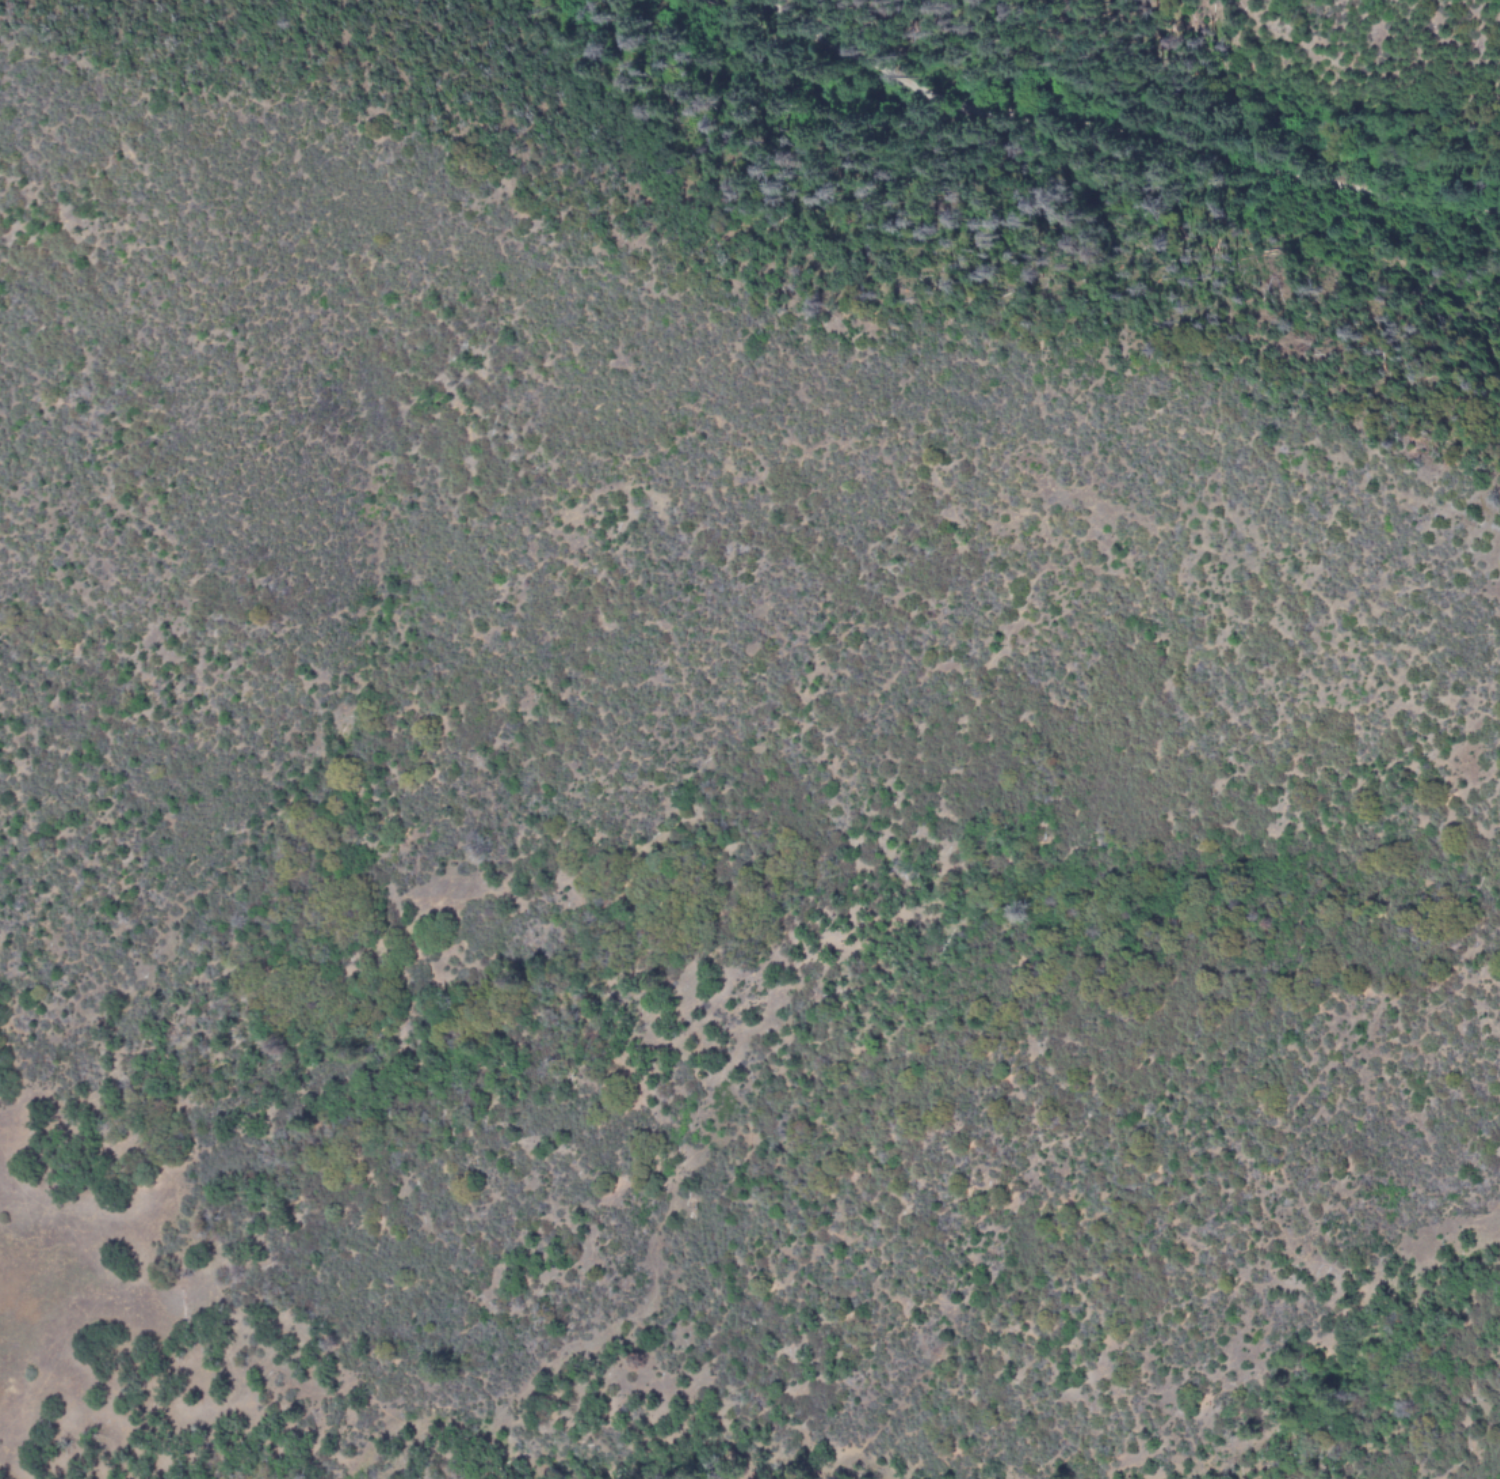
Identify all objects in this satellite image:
road: (755, 10)
road: (1096, 163)

